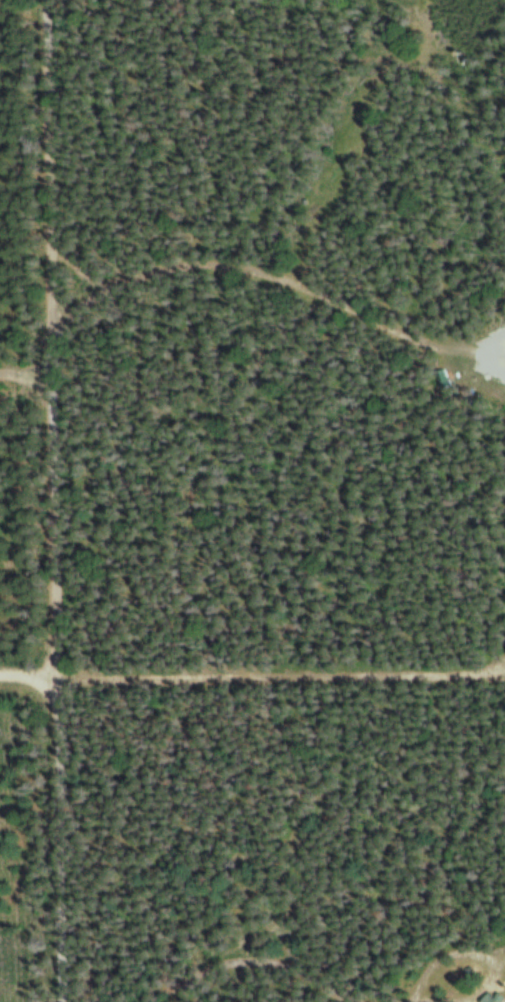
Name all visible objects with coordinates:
road: (279, 293)
building: (442, 377)
road: (23, 385)
road: (46, 500)
road: (252, 674)
road: (209, 859)
building: (485, 999)

